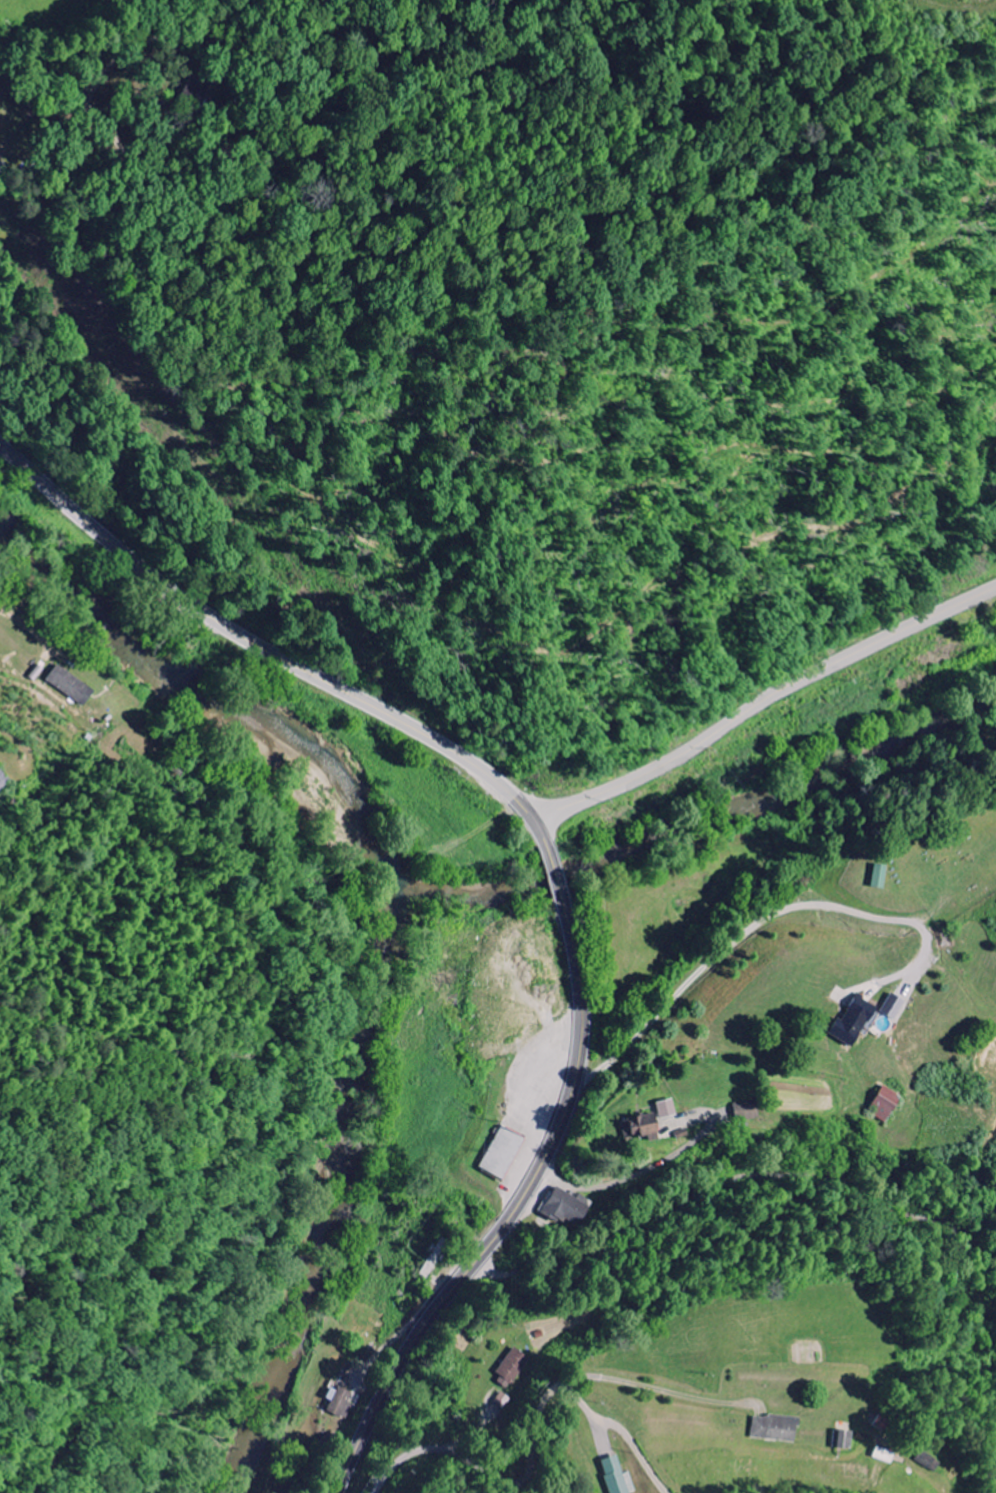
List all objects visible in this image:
road: (26, 80)
building: (74, 685)
road: (763, 704)
building: (4, 780)
road: (551, 861)
building: (881, 876)
road: (735, 941)
building: (895, 1006)
building: (857, 1022)
building: (888, 1104)
building: (748, 1111)
building: (507, 1152)
road: (736, 1181)
building: (567, 1207)
building: (514, 1368)
river: (281, 1381)
building: (343, 1402)
building: (380, 1402)
road: (537, 1421)
building: (778, 1428)
building: (846, 1440)
building: (619, 1476)

